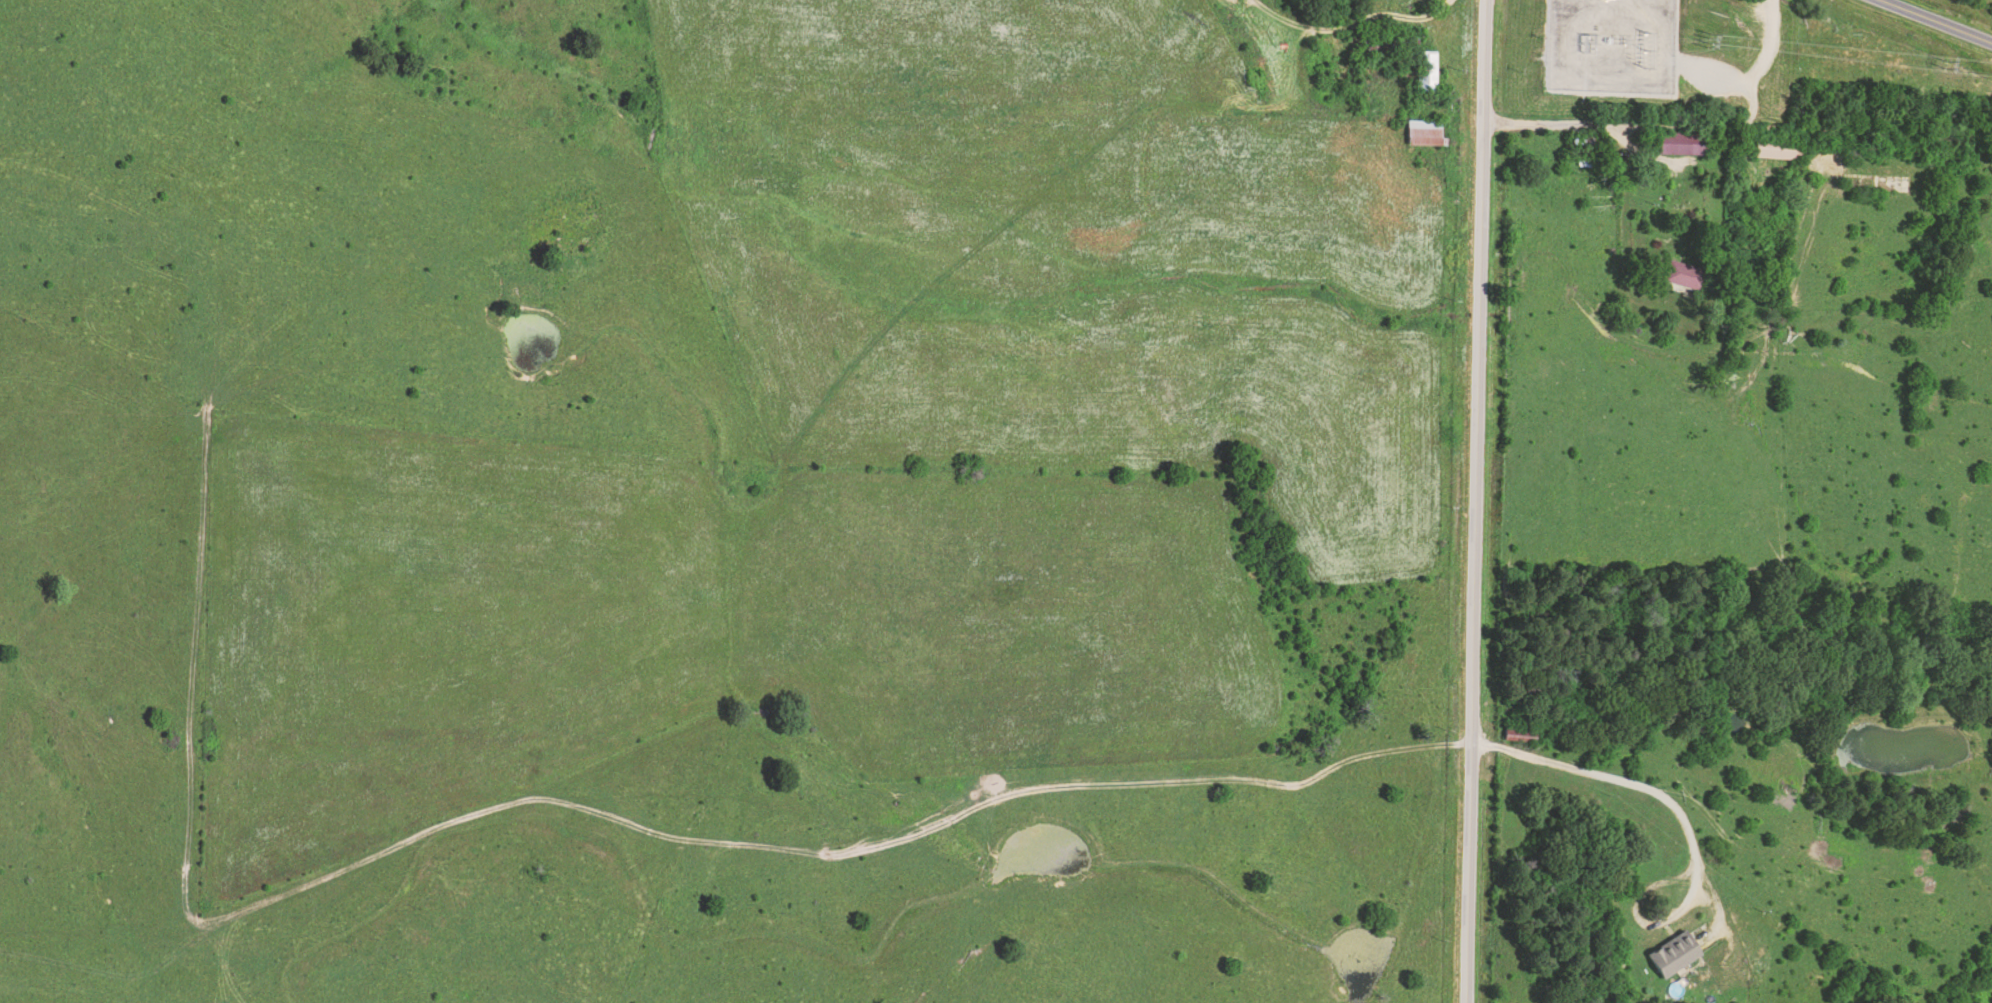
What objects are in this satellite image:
road: (1935, 21)
building: (1429, 70)
road: (1737, 122)
building: (1427, 135)
building: (1684, 150)
building: (1780, 150)
building: (1592, 158)
building: (1686, 280)
road: (1474, 501)
building: (1517, 733)
building: (1671, 953)

